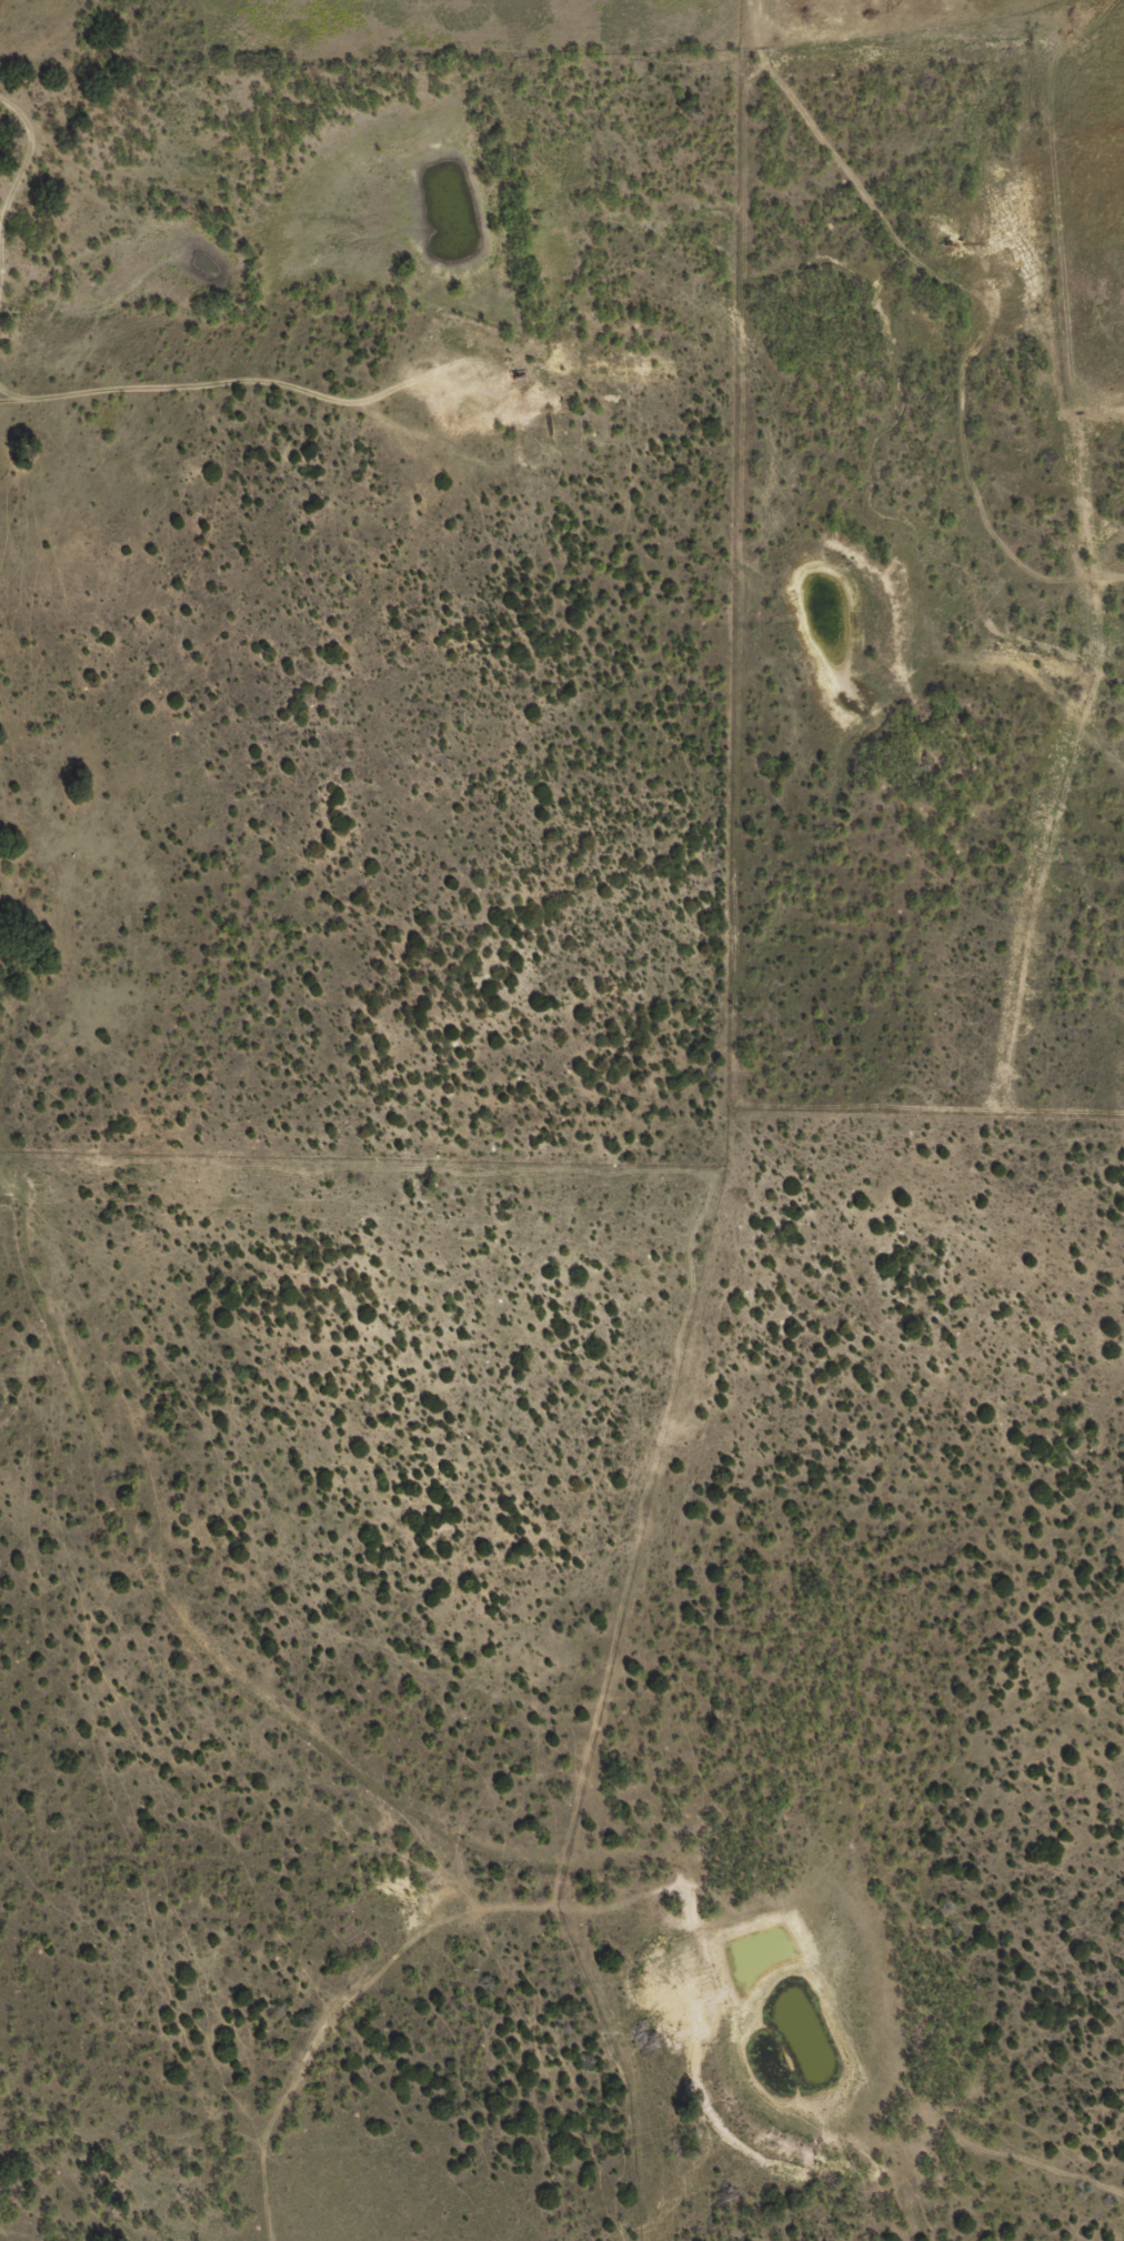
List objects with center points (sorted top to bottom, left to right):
road: (18, 178)

